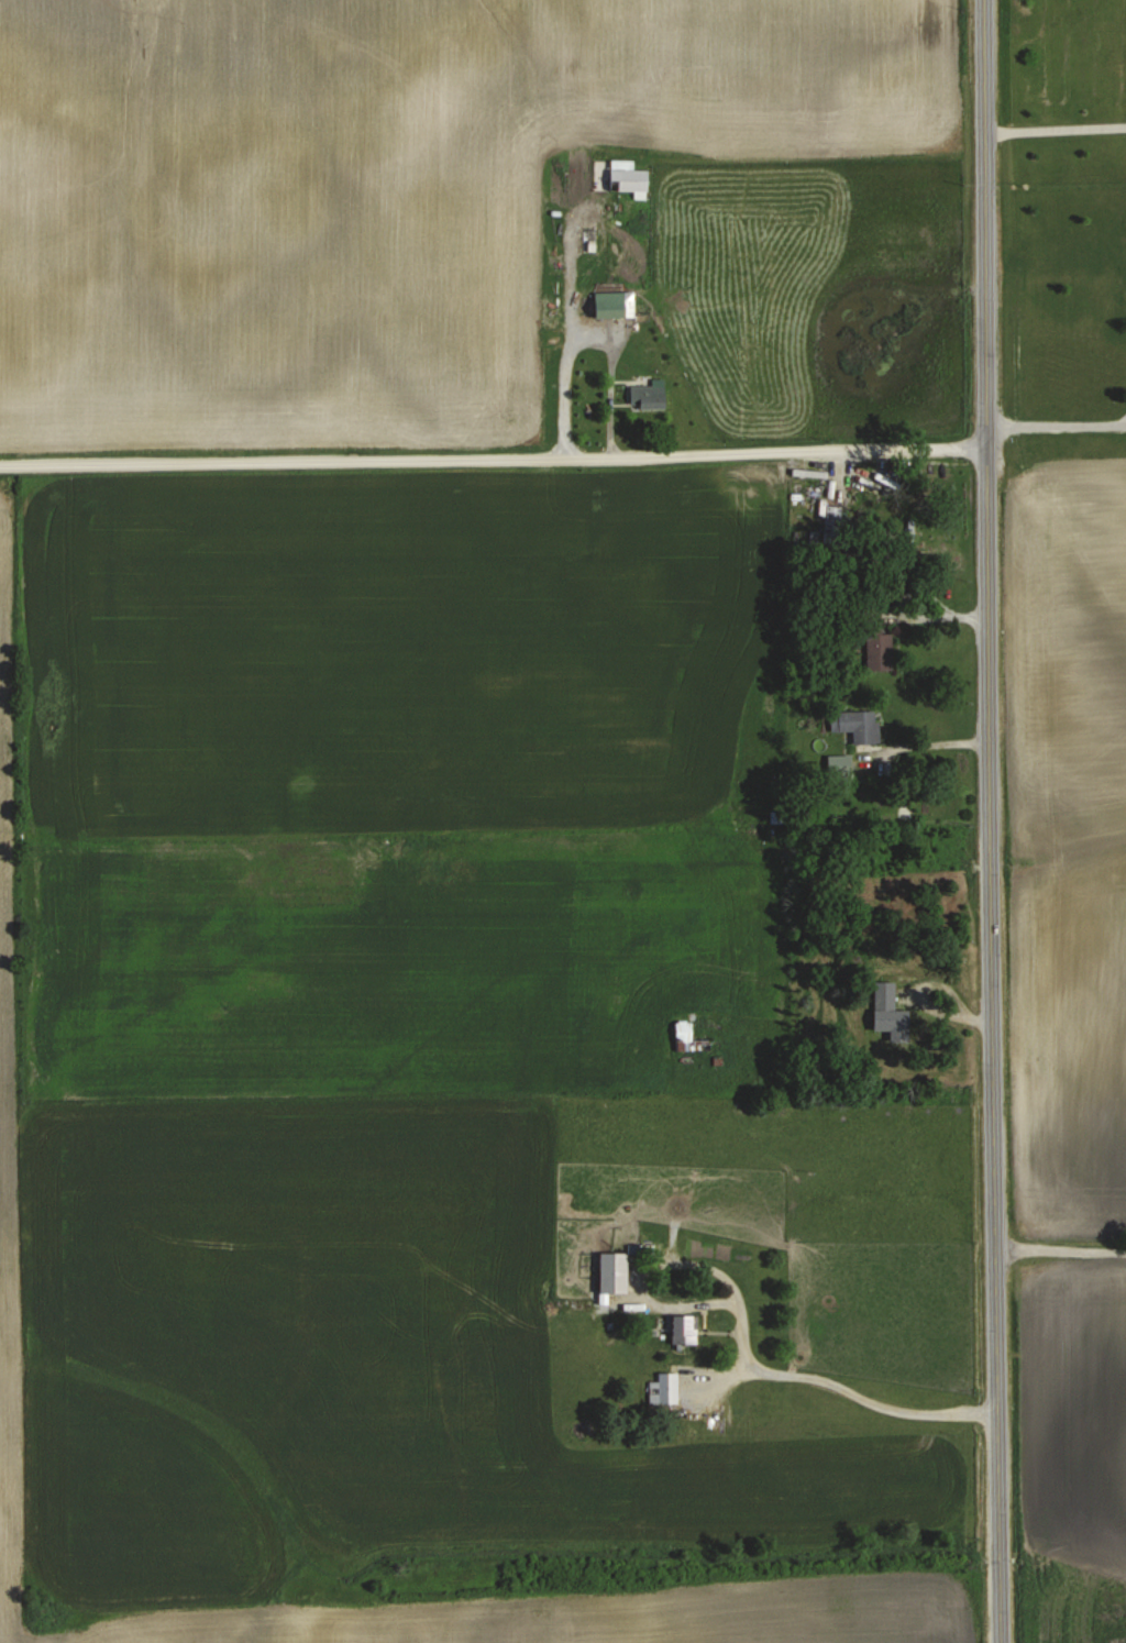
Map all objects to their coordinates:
road: (1055, 123)
building: (629, 177)
building: (590, 239)
building: (615, 302)
building: (645, 397)
road: (1056, 418)
road: (493, 453)
building: (880, 650)
building: (858, 724)
road: (992, 821)
building: (885, 1003)
building: (695, 1034)
road: (1062, 1249)
building: (614, 1271)
building: (684, 1328)
building: (665, 1388)
road: (854, 1392)

